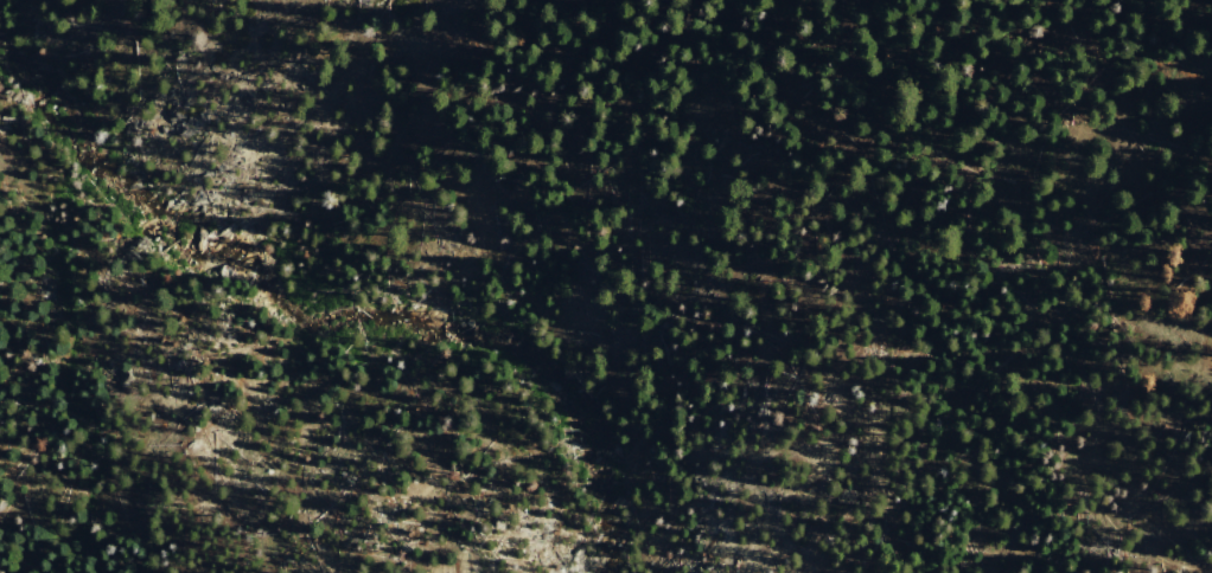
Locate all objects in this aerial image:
road: (1064, 307)

